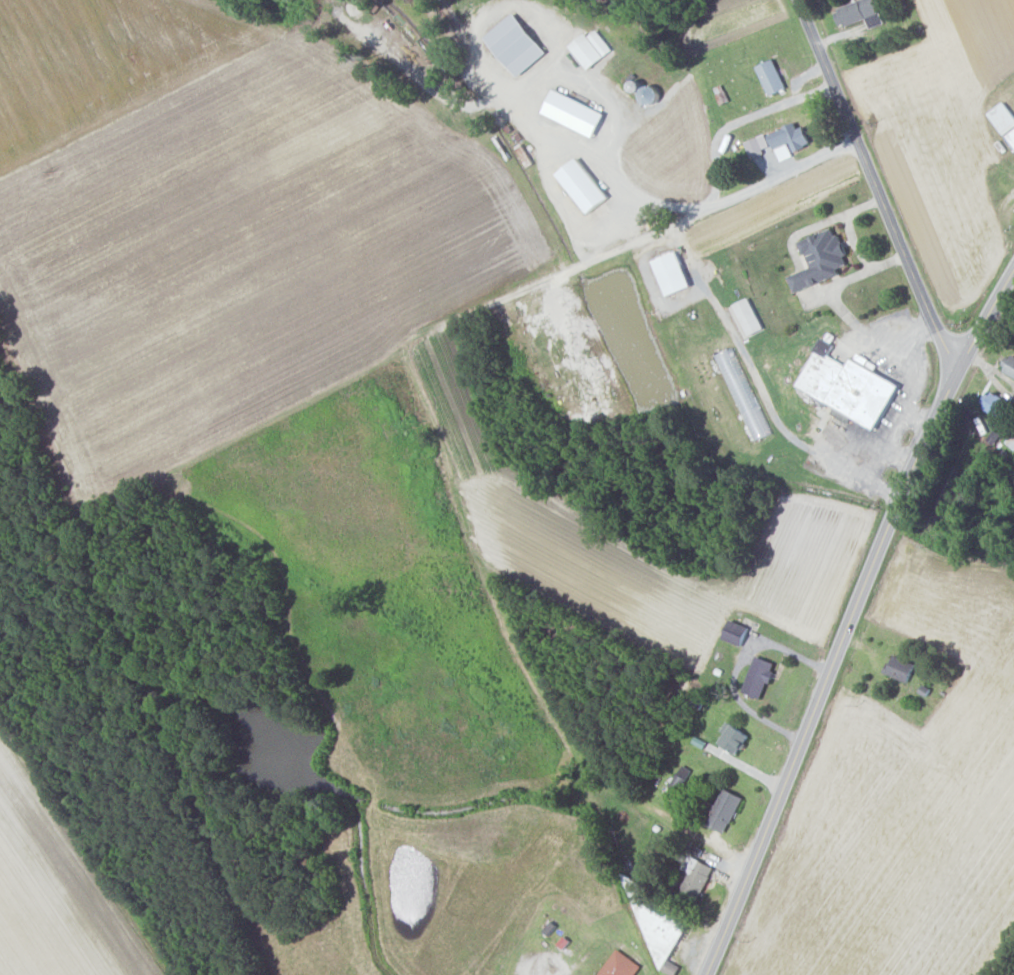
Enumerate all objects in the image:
building: (859, 13)
building: (515, 44)
building: (590, 48)
building: (771, 76)
building: (573, 112)
road: (740, 118)
building: (1004, 120)
building: (790, 137)
building: (757, 145)
building: (582, 185)
road: (877, 191)
road: (652, 200)
road: (652, 236)
building: (820, 259)
building: (671, 273)
building: (745, 317)
road: (983, 326)
building: (1009, 365)
building: (848, 385)
building: (994, 404)
building: (736, 633)
building: (900, 668)
building: (758, 677)
road: (826, 677)
building: (732, 738)
building: (723, 811)
building: (619, 964)

